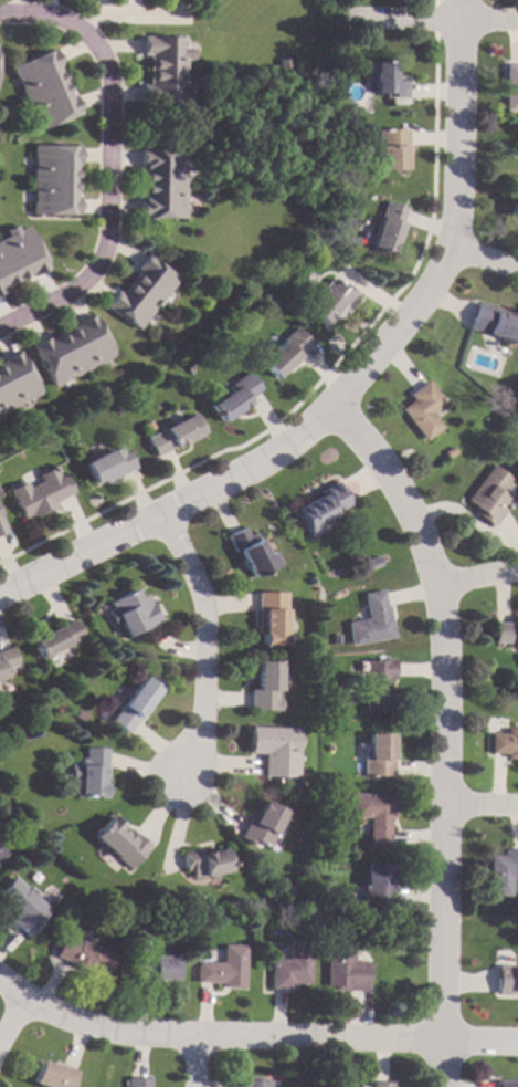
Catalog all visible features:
road: (358, 25)
road: (65, 27)
building: (281, 63)
building: (163, 69)
building: (385, 81)
building: (510, 87)
building: (43, 90)
building: (342, 104)
building: (391, 148)
road: (106, 179)
building: (52, 180)
building: (160, 184)
building: (514, 207)
building: (388, 227)
building: (18, 258)
road: (485, 269)
building: (139, 291)
building: (329, 300)
road: (47, 310)
building: (494, 323)
building: (71, 349)
building: (283, 353)
building: (14, 380)
road: (353, 383)
building: (235, 395)
building: (422, 409)
building: (175, 433)
building: (510, 447)
building: (448, 451)
building: (108, 464)
building: (40, 493)
building: (489, 495)
building: (320, 508)
building: (2, 526)
building: (250, 552)
road: (474, 582)
building: (131, 612)
building: (271, 617)
building: (371, 620)
building: (507, 633)
building: (56, 639)
building: (337, 639)
road: (195, 646)
building: (7, 660)
building: (378, 684)
building: (265, 686)
building: (51, 694)
building: (134, 704)
road: (442, 734)
building: (505, 743)
building: (274, 749)
building: (378, 755)
building: (91, 773)
building: (330, 776)
road: (482, 805)
building: (373, 815)
building: (260, 824)
building: (119, 843)
building: (1, 854)
building: (204, 863)
building: (501, 871)
building: (376, 884)
building: (20, 906)
building: (331, 908)
building: (82, 955)
building: (289, 966)
building: (150, 969)
building: (222, 969)
building: (343, 971)
building: (506, 979)
road: (1, 995)
road: (254, 1045)
road: (186, 1066)
building: (51, 1075)
building: (136, 1083)
building: (251, 1083)
building: (379, 1084)
building: (505, 1084)

